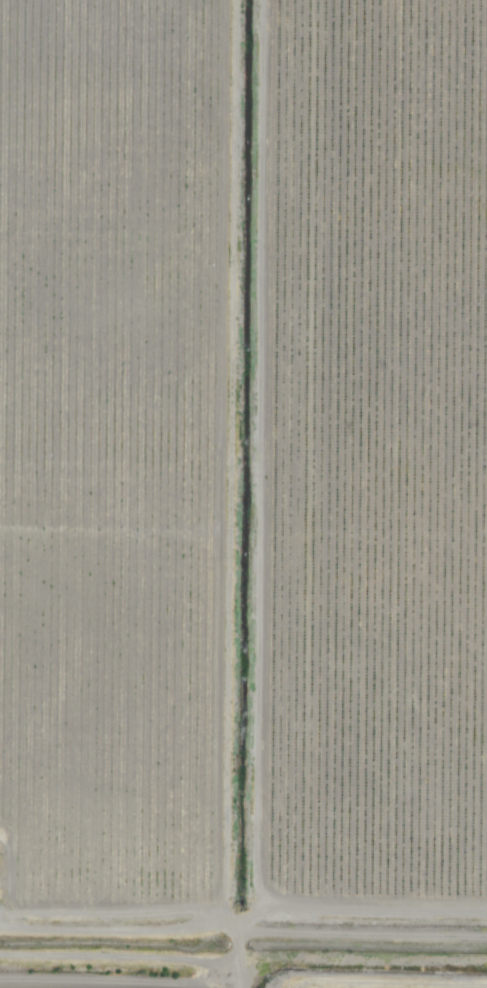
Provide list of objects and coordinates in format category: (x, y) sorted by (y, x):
road: (234, 973)

